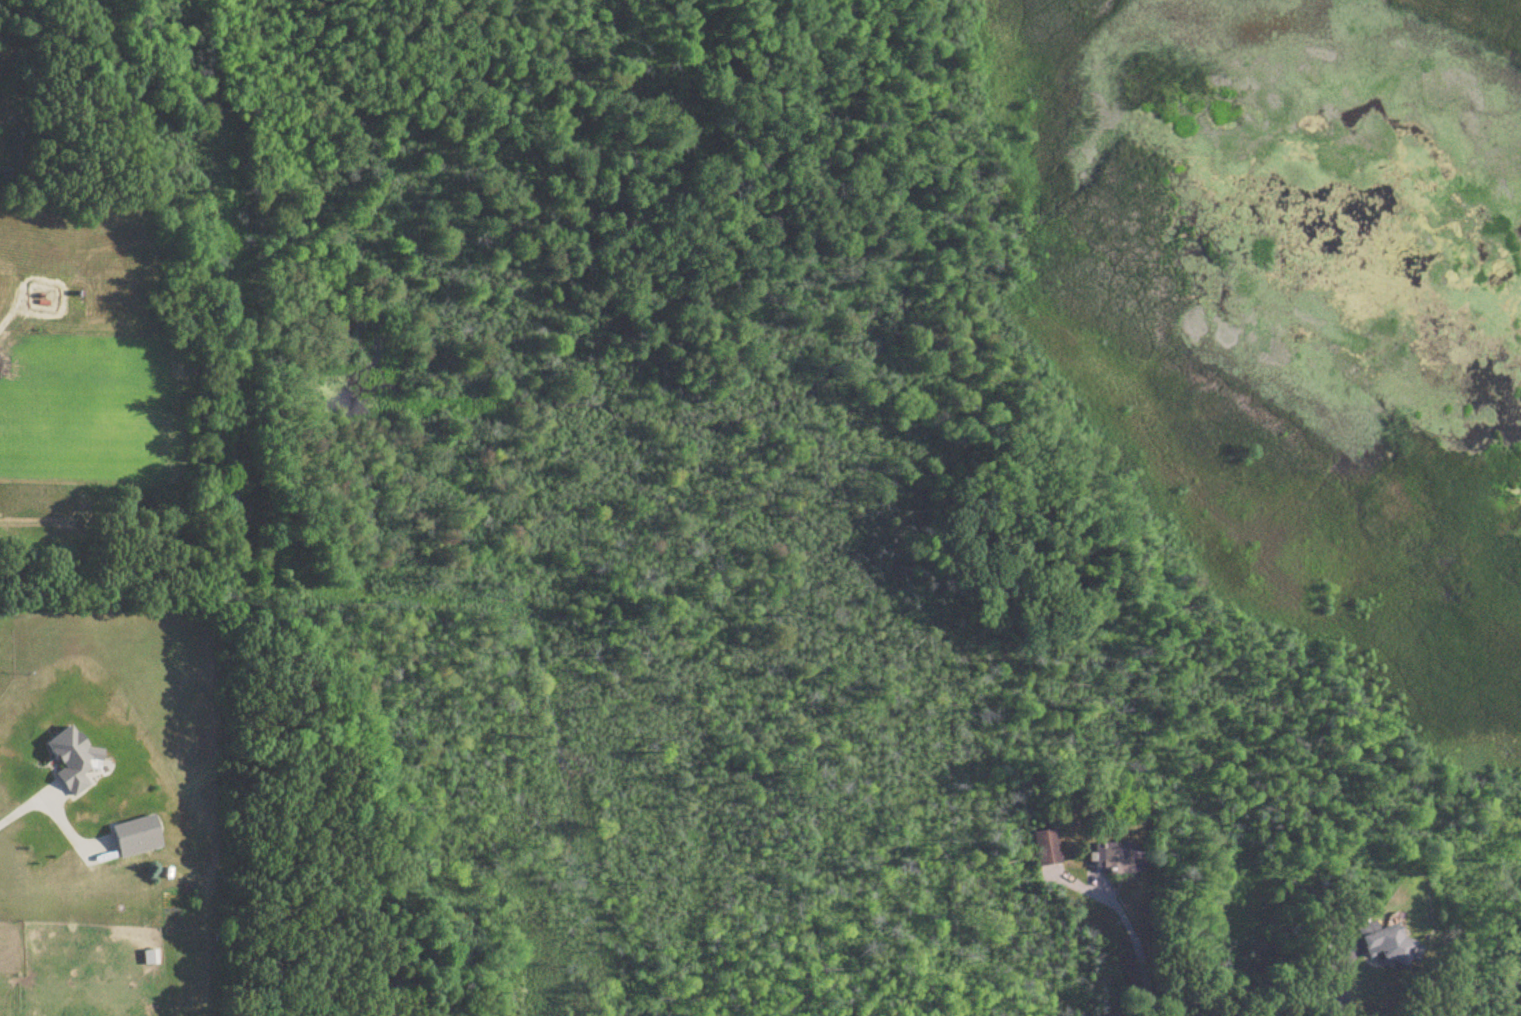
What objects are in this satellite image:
road: (11, 320)
building: (75, 760)
road: (19, 811)
building: (139, 837)
building: (1116, 859)
road: (1128, 928)
building: (1389, 945)
building: (151, 958)
road: (1344, 985)

